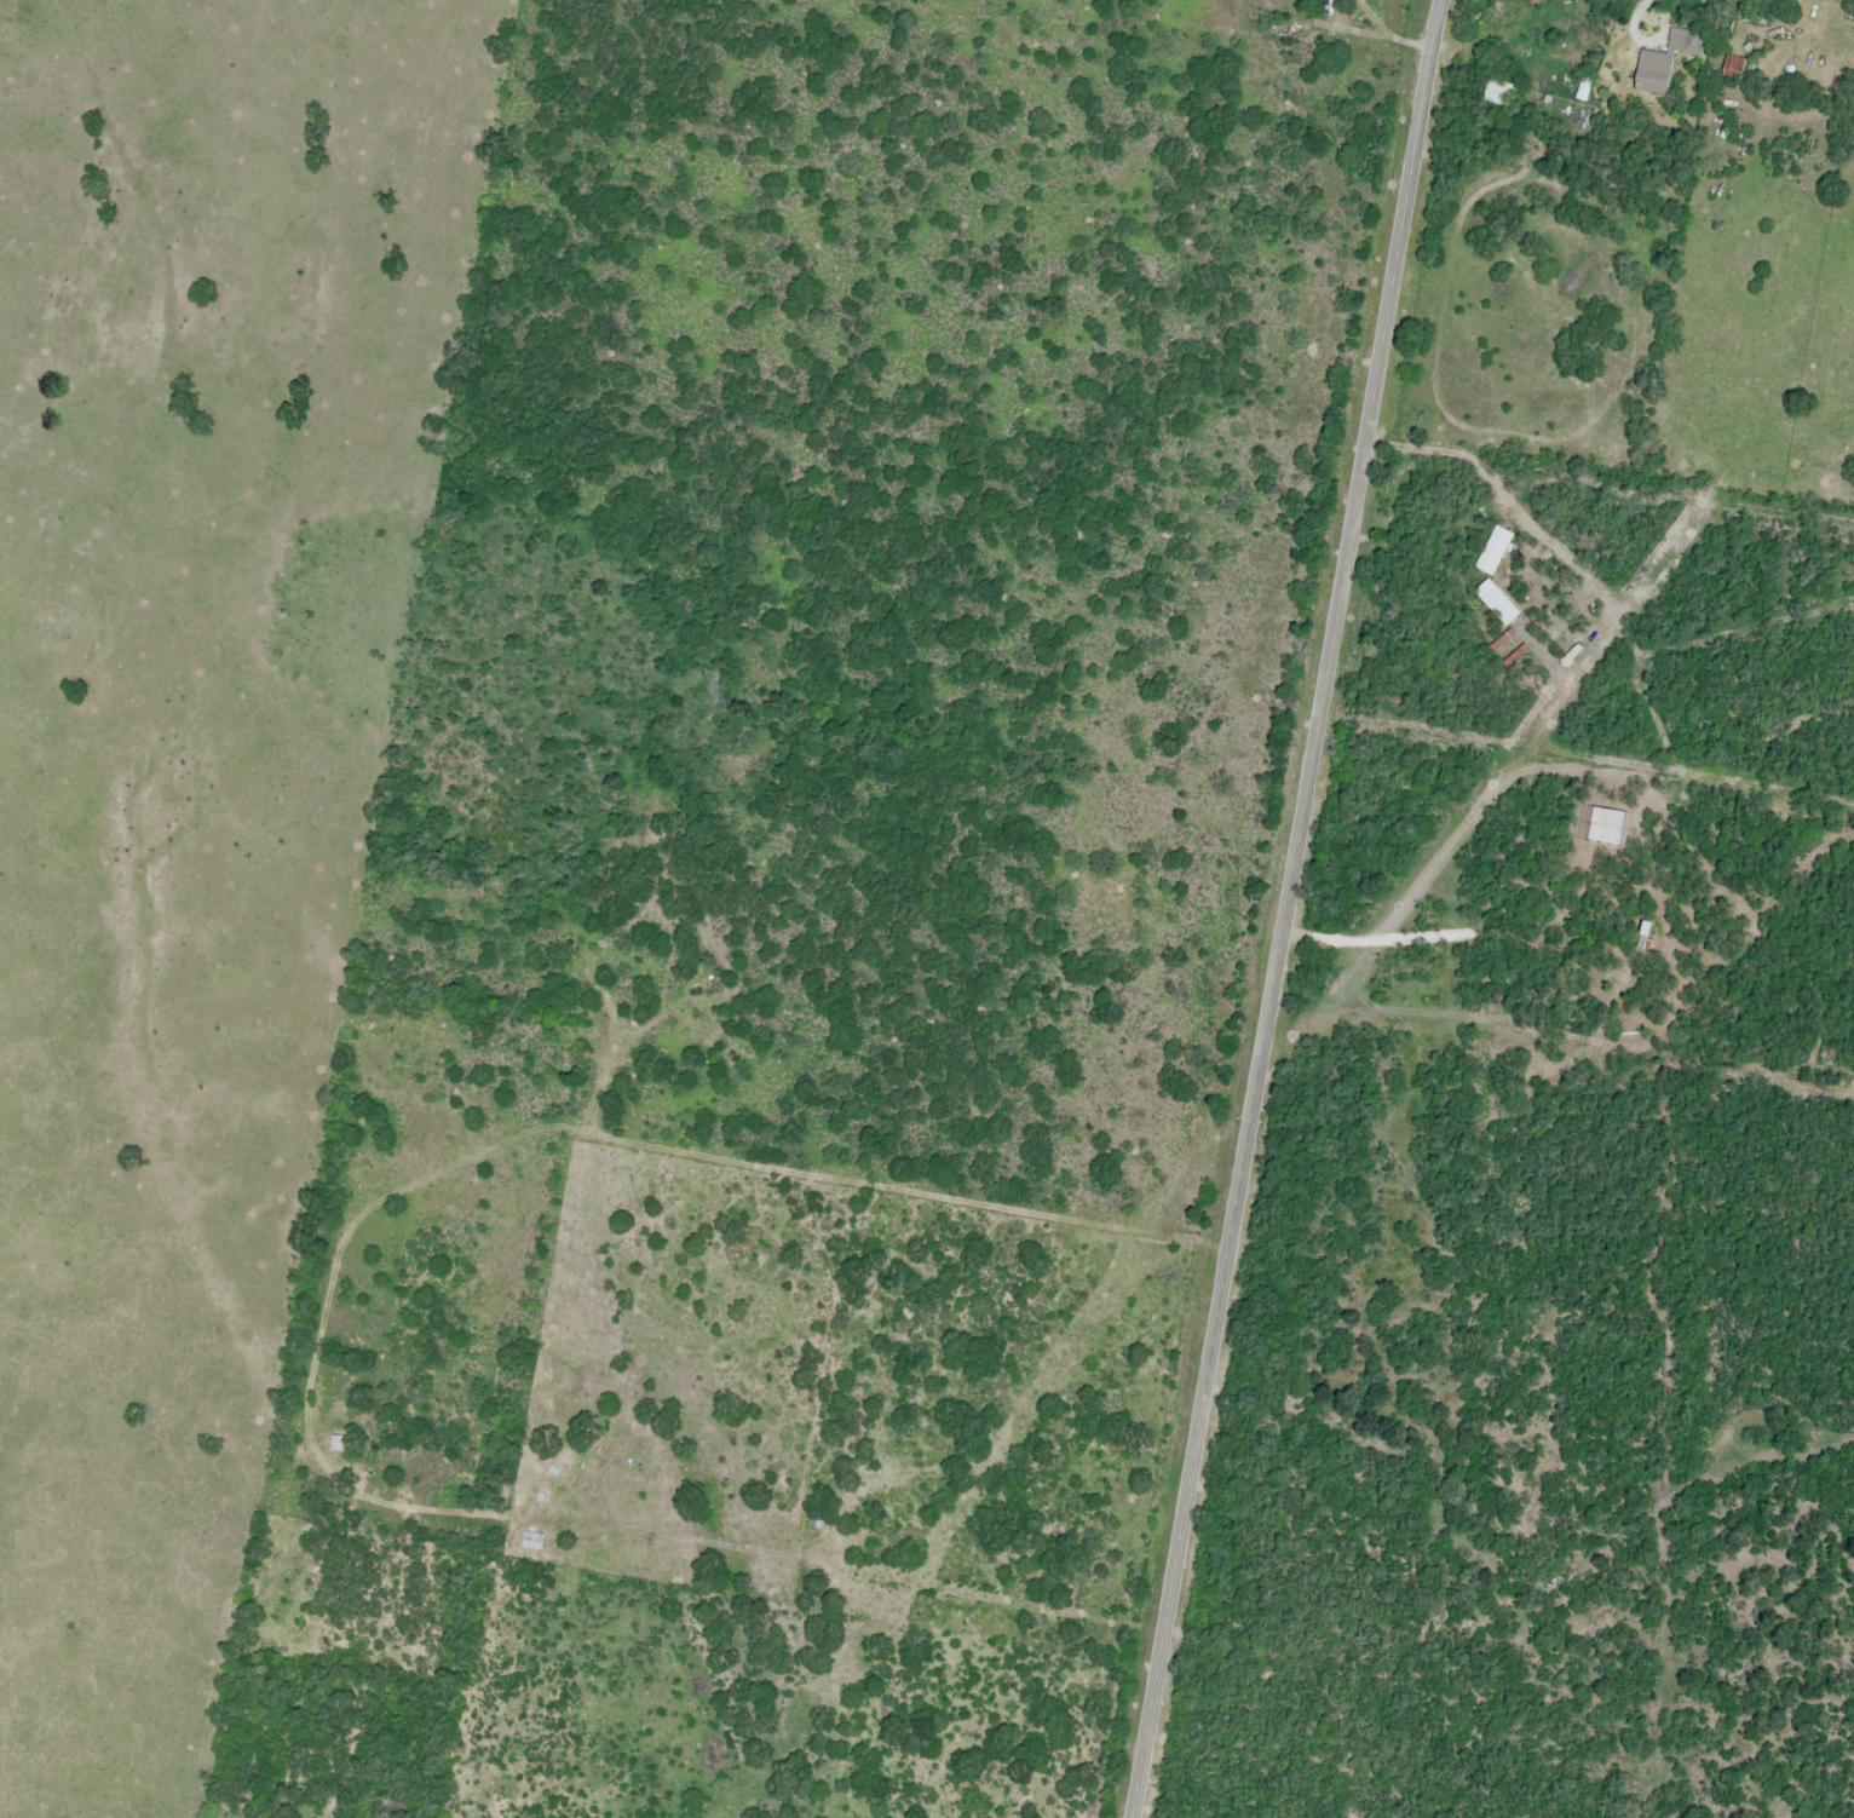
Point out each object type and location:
building: (1688, 40)
building: (1727, 67)
building: (1646, 77)
building: (1496, 92)
road: (1283, 908)
building: (338, 1443)
building: (535, 1540)

